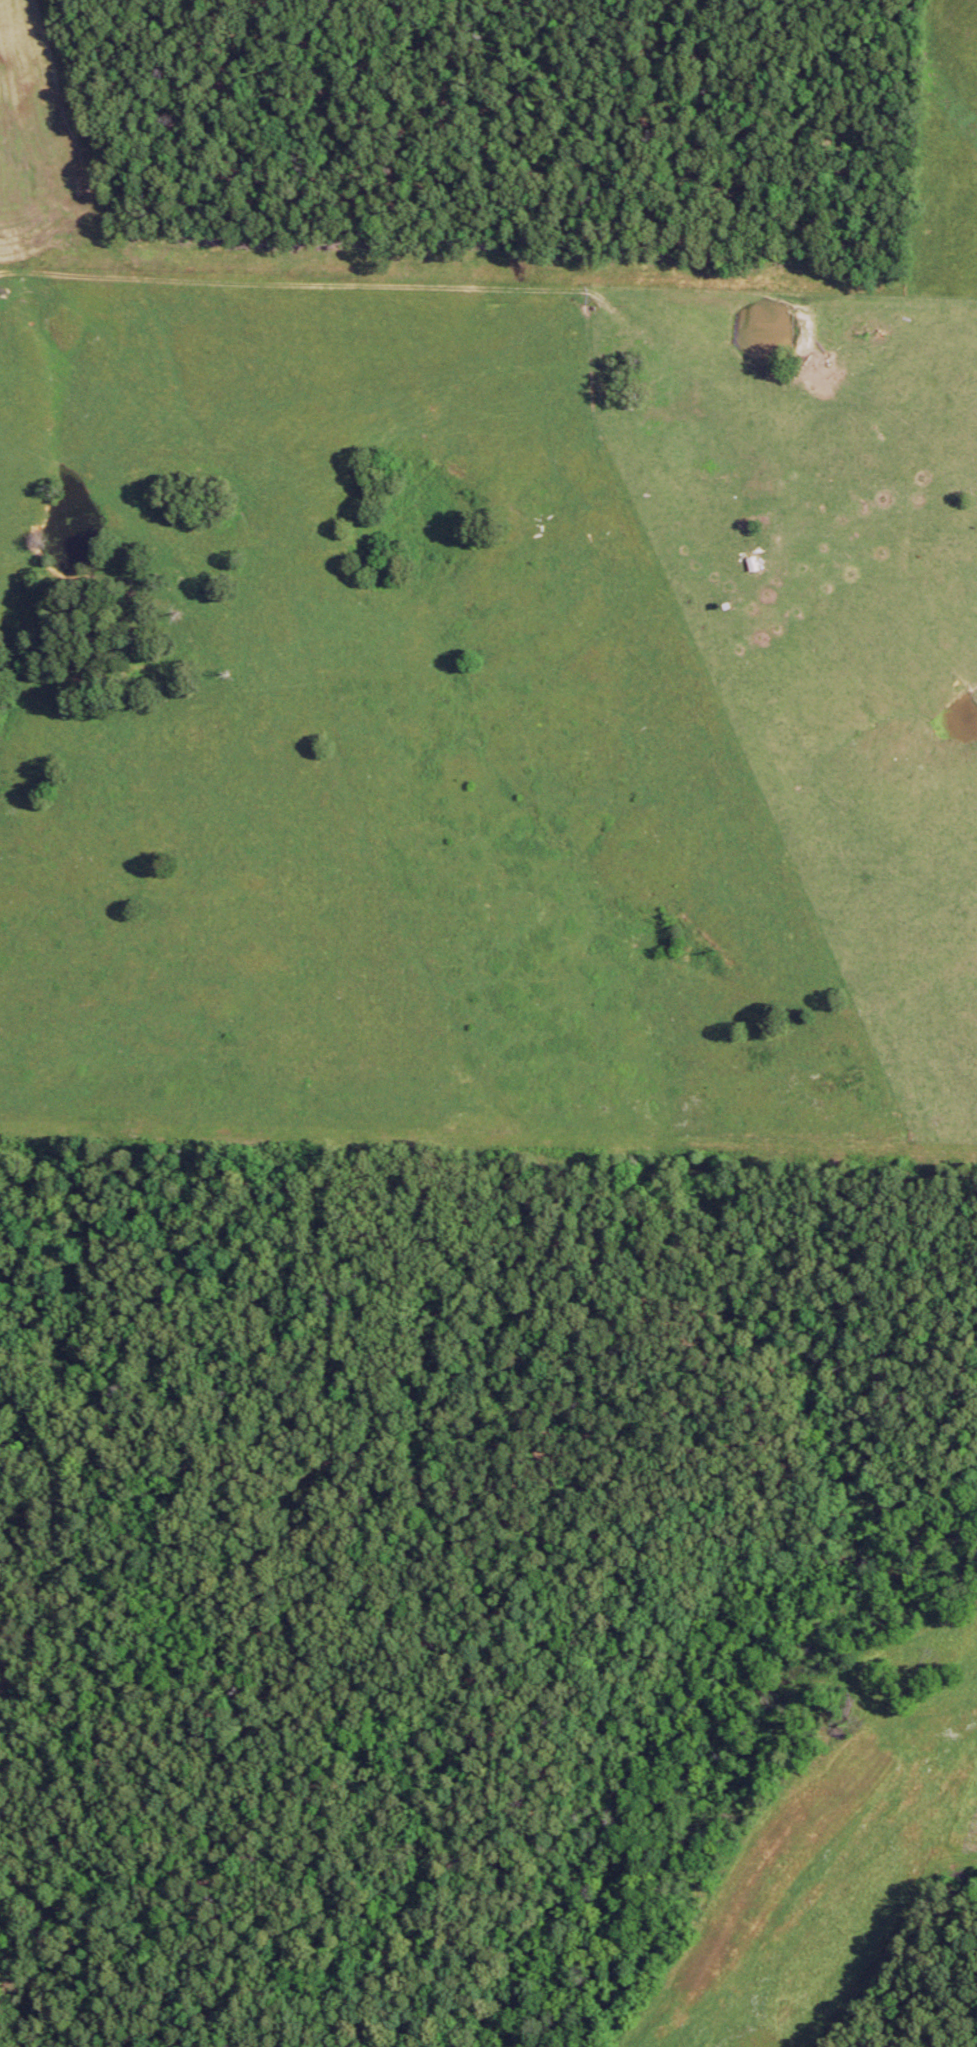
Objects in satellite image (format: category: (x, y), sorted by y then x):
building: (755, 569)

